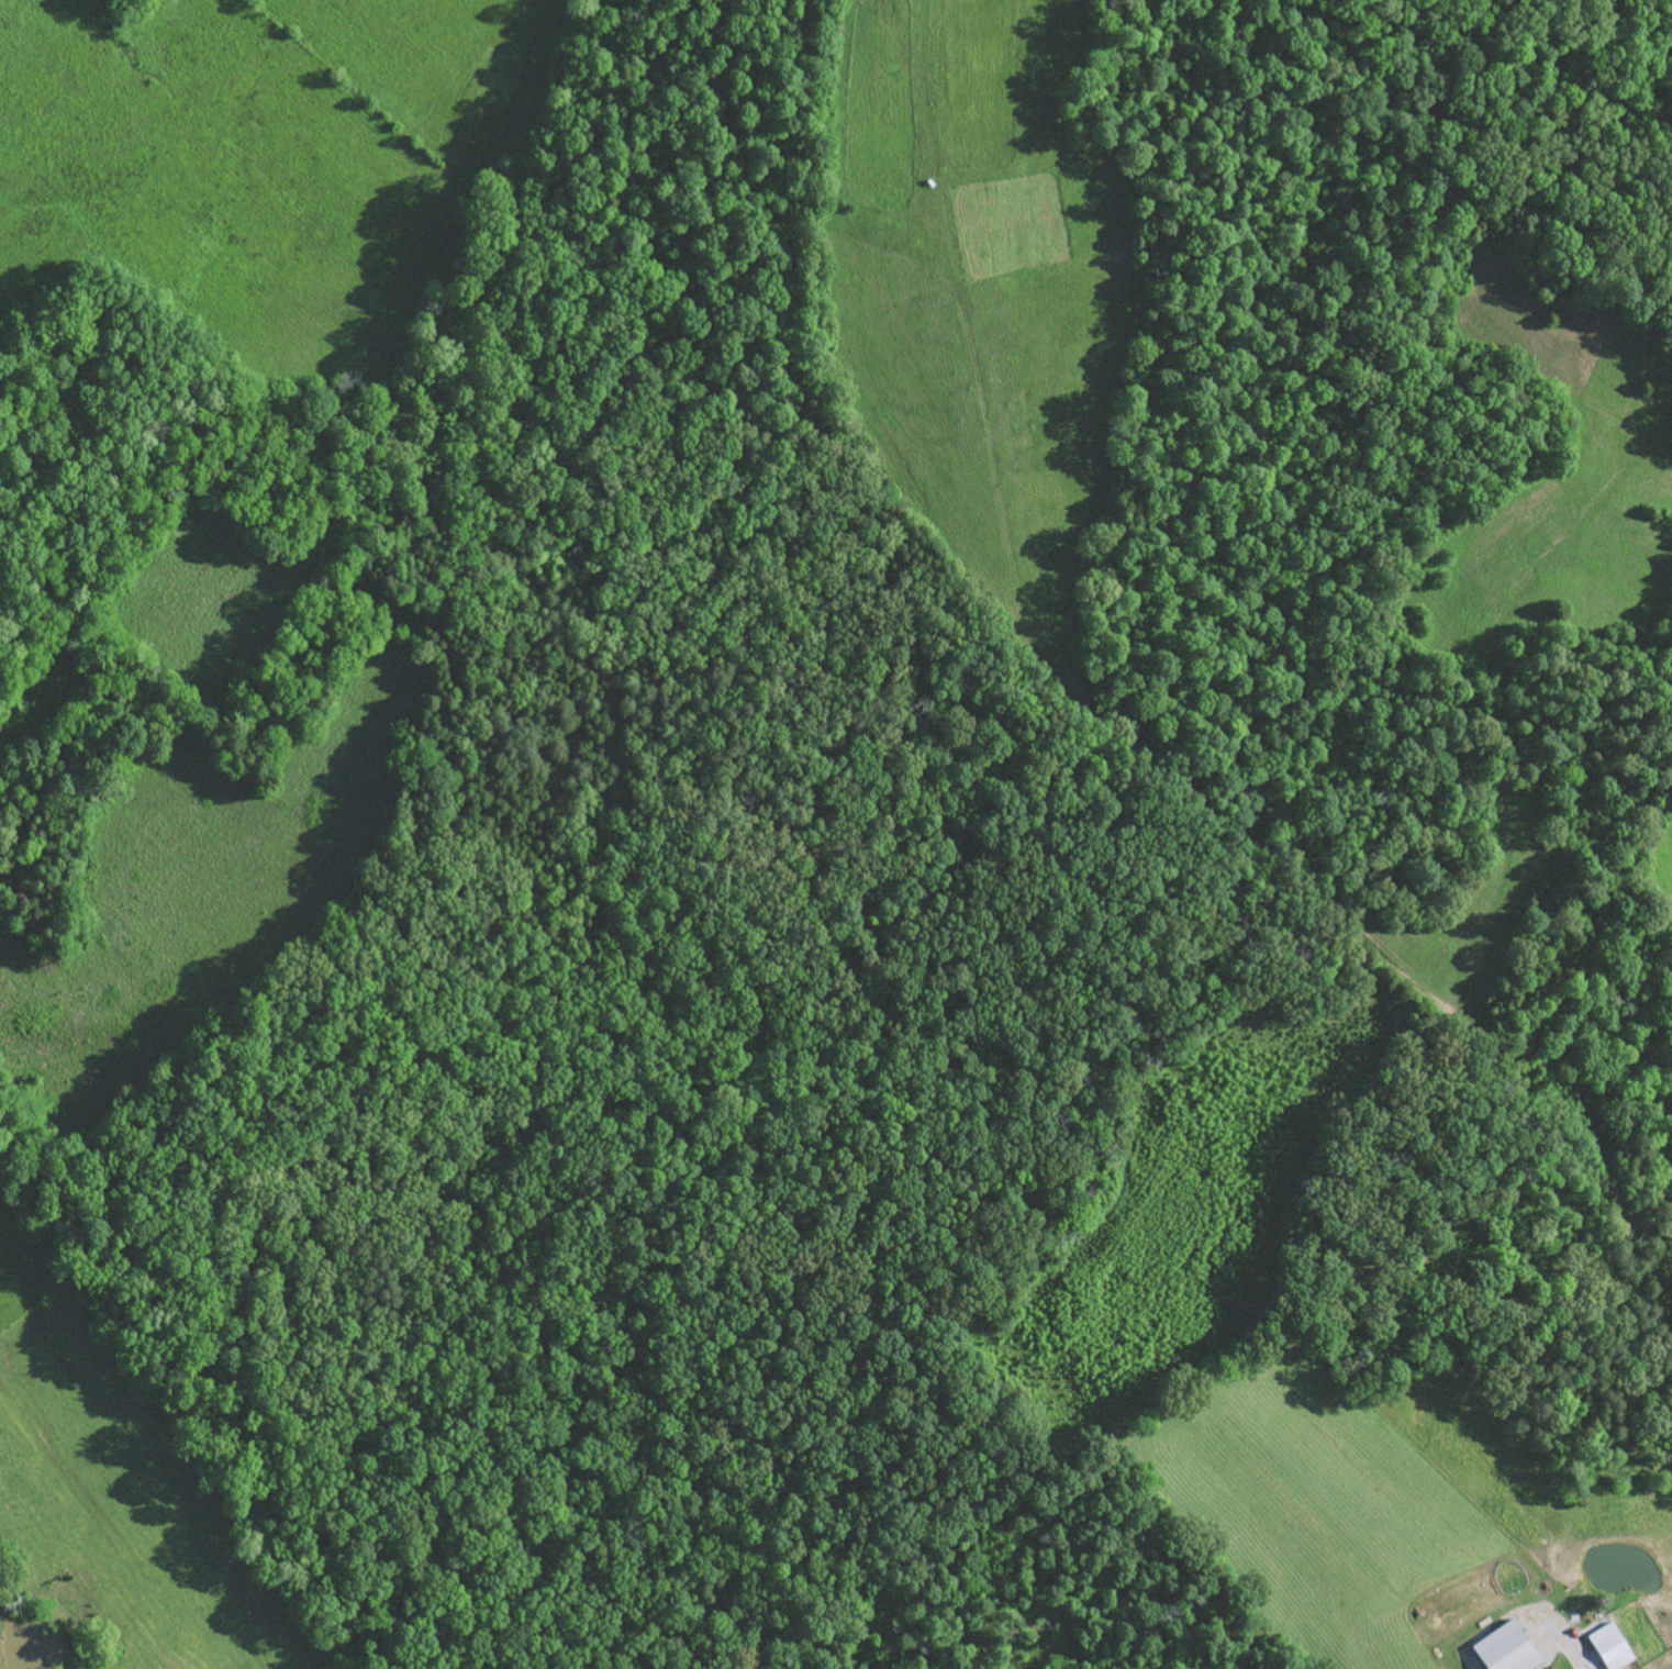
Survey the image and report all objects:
building: (1614, 1646)
building: (1512, 1648)

